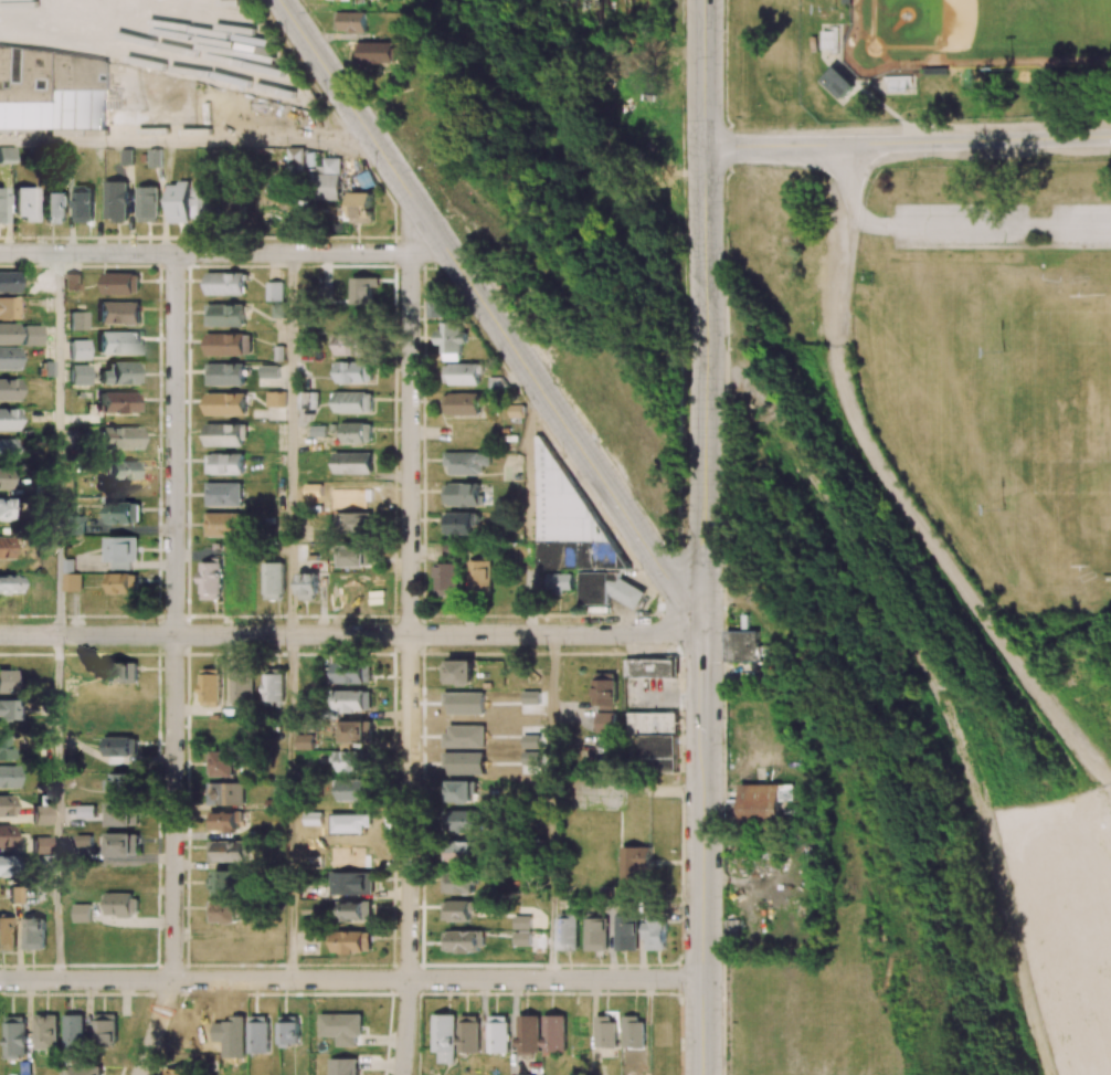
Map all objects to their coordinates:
building: (846, 1)
park: (975, 34)
building: (379, 52)
building: (897, 83)
building: (838, 84)
building: (436, 87)
building: (80, 103)
road: (187, 143)
road: (908, 143)
building: (7, 156)
building: (155, 157)
building: (296, 160)
building: (325, 180)
building: (116, 200)
building: (179, 202)
building: (83, 203)
building: (147, 203)
building: (203, 203)
building: (234, 203)
building: (24, 204)
building: (2, 205)
building: (361, 207)
building: (55, 208)
road: (220, 254)
building: (8, 283)
building: (120, 283)
building: (224, 283)
building: (362, 289)
park: (952, 291)
building: (436, 299)
building: (8, 308)
building: (118, 313)
building: (225, 315)
road: (490, 317)
road: (705, 317)
building: (77, 320)
building: (8, 334)
building: (30, 335)
building: (451, 339)
building: (118, 342)
building: (228, 344)
building: (350, 344)
building: (77, 350)
building: (8, 358)
building: (267, 371)
building: (353, 371)
building: (225, 373)
building: (465, 373)
building: (120, 375)
building: (78, 376)
building: (8, 390)
building: (275, 399)
building: (304, 400)
building: (353, 402)
building: (118, 403)
building: (225, 403)
building: (463, 403)
building: (8, 420)
building: (318, 430)
park: (1062, 430)
building: (356, 432)
building: (224, 434)
building: (119, 439)
road: (411, 444)
road: (174, 445)
building: (6, 450)
building: (465, 462)
building: (224, 463)
building: (352, 463)
building: (121, 471)
building: (3, 479)
building: (223, 494)
building: (461, 494)
building: (6, 509)
building: (123, 513)
building: (578, 514)
building: (353, 523)
building: (458, 523)
building: (223, 524)
building: (74, 525)
building: (4, 548)
building: (449, 549)
building: (121, 552)
building: (356, 555)
building: (548, 555)
building: (479, 576)
building: (447, 578)
building: (210, 580)
building: (242, 580)
building: (273, 580)
building: (72, 581)
building: (559, 582)
building: (8, 583)
building: (123, 583)
building: (307, 586)
building: (591, 588)
building: (628, 594)
road: (57, 616)
road: (290, 616)
traffic signals: (705, 634)
road: (352, 635)
building: (741, 645)
building: (649, 667)
building: (119, 672)
building: (351, 672)
building: (459, 672)
building: (4, 682)
building: (241, 686)
building: (210, 687)
building: (273, 687)
building: (605, 689)
building: (352, 700)
building: (9, 710)
building: (606, 721)
building: (356, 730)
building: (305, 741)
building: (120, 746)
building: (3, 748)
building: (350, 761)
building: (221, 763)
building: (9, 777)
building: (120, 784)
building: (353, 790)
building: (462, 791)
building: (225, 793)
building: (763, 803)
building: (4, 805)
road: (552, 808)
building: (123, 813)
building: (42, 814)
building: (224, 820)
building: (464, 821)
building: (4, 836)
building: (84, 840)
building: (121, 844)
building: (41, 845)
building: (226, 851)
building: (463, 851)
road: (703, 854)
road: (410, 855)
road: (174, 857)
building: (3, 866)
building: (634, 866)
building: (225, 882)
building: (458, 882)
building: (351, 883)
building: (15, 896)
building: (123, 905)
building: (223, 910)
building: (458, 910)
building: (356, 911)
building: (81, 913)
building: (521, 921)
building: (567, 931)
building: (34, 932)
building: (8, 934)
building: (596, 934)
building: (627, 934)
building: (656, 934)
building: (521, 938)
building: (463, 940)
building: (351, 941)
road: (351, 980)
building: (341, 1026)
building: (105, 1029)
building: (288, 1030)
building: (605, 1031)
building: (46, 1032)
building: (634, 1032)
building: (468, 1033)
building: (498, 1033)
building: (529, 1033)
building: (74, 1034)
building: (258, 1034)
building: (554, 1034)
building: (14, 1035)
building: (444, 1036)
building: (342, 1066)
building: (82, 1071)
building: (179, 1072)
building: (526, 1074)

